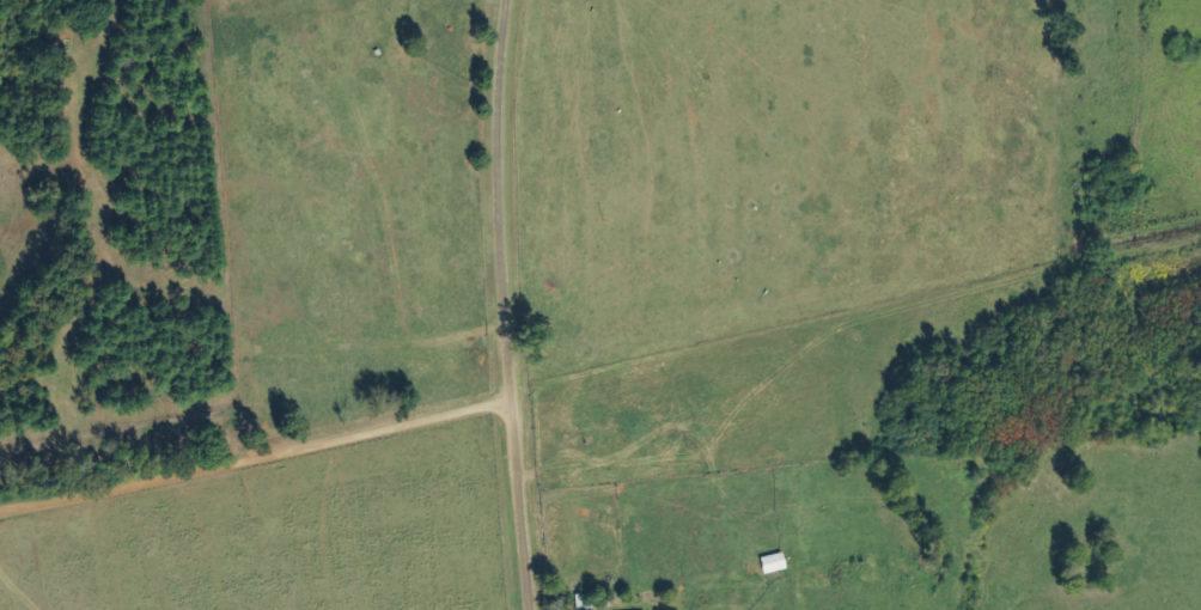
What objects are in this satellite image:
road: (506, 305)
road: (285, 449)
building: (580, 603)

